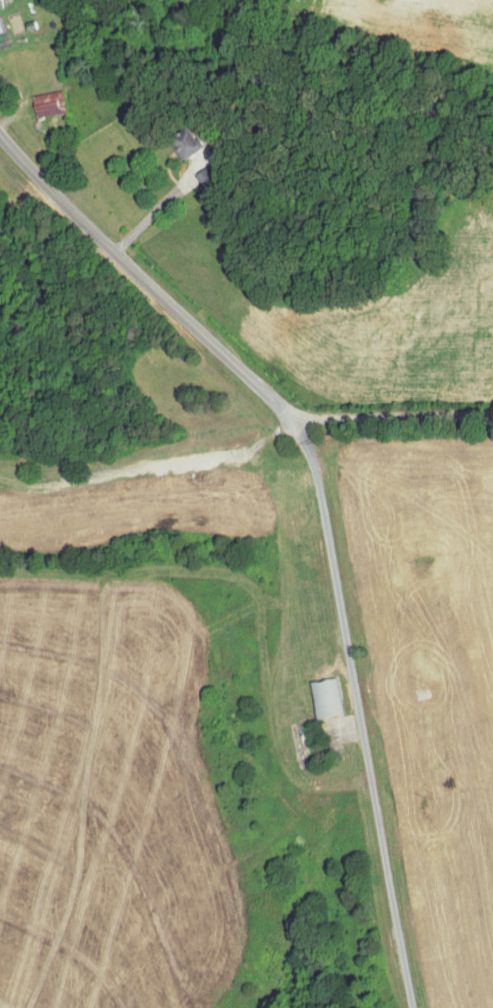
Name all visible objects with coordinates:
building: (1, 3)
building: (49, 102)
building: (188, 142)
building: (206, 176)
road: (153, 205)
road: (395, 424)
road: (322, 509)
building: (326, 697)
road: (392, 759)
road: (345, 786)

